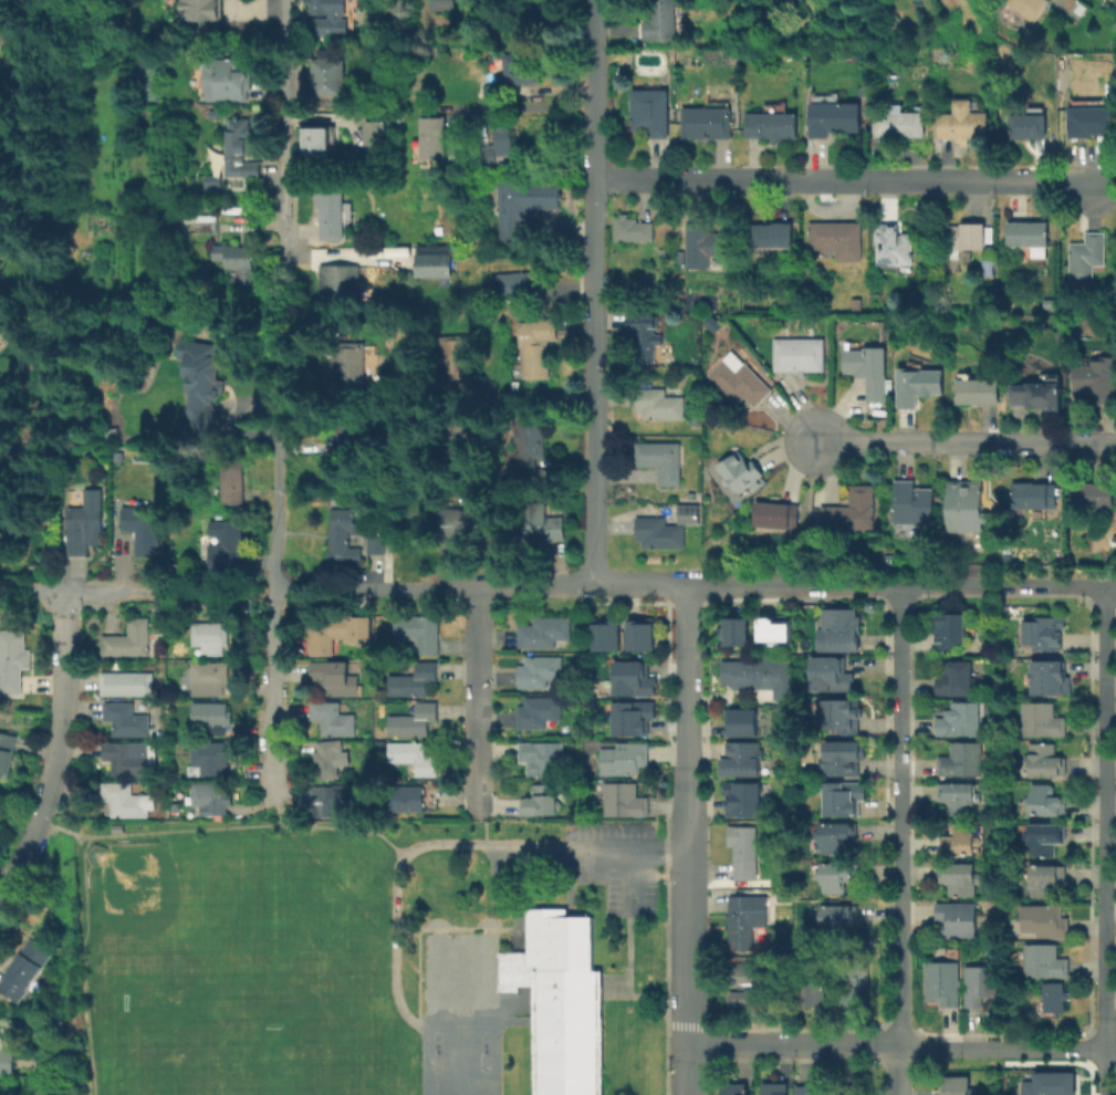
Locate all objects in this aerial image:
building: (446, 4)
building: (323, 7)
building: (1028, 7)
building: (201, 9)
building: (661, 20)
building: (520, 67)
building: (230, 74)
building: (327, 76)
road: (524, 105)
building: (650, 108)
building: (213, 114)
building: (834, 117)
building: (962, 121)
building: (1089, 121)
building: (703, 122)
building: (898, 123)
building: (771, 124)
building: (1029, 125)
building: (376, 128)
building: (434, 136)
building: (317, 138)
building: (497, 145)
building: (239, 149)
road: (851, 180)
building: (212, 181)
building: (525, 206)
building: (330, 209)
building: (206, 226)
building: (633, 228)
building: (771, 233)
building: (1029, 236)
building: (962, 237)
building: (836, 238)
building: (702, 243)
building: (893, 244)
building: (1085, 255)
building: (236, 258)
building: (434, 263)
building: (987, 265)
building: (335, 282)
building: (521, 285)
road: (594, 291)
road: (278, 327)
building: (646, 337)
building: (536, 345)
building: (799, 353)
building: (456, 363)
building: (347, 367)
building: (869, 369)
building: (1097, 378)
building: (739, 382)
building: (201, 384)
building: (917, 384)
building: (979, 390)
building: (1036, 393)
road: (536, 398)
building: (658, 404)
building: (350, 432)
building: (108, 434)
building: (463, 438)
road: (964, 441)
building: (529, 447)
building: (659, 458)
building: (740, 470)
building: (232, 478)
building: (1093, 493)
building: (1035, 494)
building: (914, 502)
building: (967, 505)
building: (851, 510)
road: (807, 512)
building: (775, 514)
building: (684, 517)
building: (463, 518)
building: (534, 523)
building: (81, 525)
building: (138, 531)
building: (654, 535)
building: (446, 538)
building: (717, 539)
building: (340, 540)
building: (222, 546)
building: (373, 549)
road: (639, 584)
road: (900, 586)
road: (431, 587)
road: (77, 594)
road: (215, 594)
road: (687, 617)
building: (838, 628)
building: (776, 630)
building: (952, 630)
building: (1046, 632)
building: (330, 633)
building: (540, 633)
building: (415, 634)
building: (730, 635)
building: (634, 638)
building: (207, 639)
building: (601, 639)
building: (125, 642)
building: (10, 665)
road: (687, 670)
building: (535, 672)
building: (828, 672)
building: (1051, 677)
building: (757, 678)
building: (957, 678)
building: (205, 680)
building: (331, 681)
building: (410, 681)
building: (627, 681)
building: (122, 686)
building: (597, 695)
road: (479, 700)
building: (534, 713)
building: (851, 716)
building: (206, 720)
building: (627, 720)
building: (962, 720)
building: (1042, 720)
building: (328, 721)
building: (122, 722)
building: (411, 722)
building: (738, 726)
road: (687, 727)
road: (271, 730)
building: (576, 730)
building: (4, 750)
road: (53, 751)
road: (896, 754)
building: (842, 757)
building: (411, 758)
building: (536, 759)
building: (1044, 760)
building: (122, 761)
building: (324, 761)
building: (619, 761)
building: (962, 761)
building: (206, 762)
building: (738, 762)
road: (1105, 763)
building: (369, 773)
road: (687, 789)
building: (206, 797)
building: (846, 797)
building: (960, 797)
building: (404, 800)
building: (618, 801)
building: (738, 801)
building: (1045, 801)
building: (321, 802)
building: (121, 803)
building: (536, 804)
building: (160, 813)
building: (177, 815)
road: (272, 815)
road: (45, 825)
road: (246, 826)
road: (484, 828)
building: (834, 836)
building: (1043, 837)
building: (960, 839)
road: (624, 851)
building: (740, 854)
road: (397, 865)
parking lot: (612, 866)
building: (835, 876)
building: (960, 877)
building: (1046, 878)
road: (633, 880)
park: (149, 915)
building: (834, 915)
building: (959, 918)
building: (1046, 920)
building: (741, 922)
road: (687, 956)
park: (363, 957)
building: (1046, 961)
road: (74, 964)
building: (22, 970)
building: (853, 980)
building: (942, 983)
road: (895, 984)
building: (981, 985)
building: (742, 988)
building: (814, 992)
building: (1058, 997)
building: (459, 1001)
road: (498, 1005)
building: (766, 1015)
park: (227, 1018)
road: (1106, 1018)
road: (791, 1045)
road: (1000, 1047)
road: (1110, 1049)
building: (7, 1063)
road: (895, 1071)
building: (1049, 1083)
building: (957, 1084)
building: (775, 1088)
building: (728, 1089)
building: (806, 1089)
building: (851, 1089)

